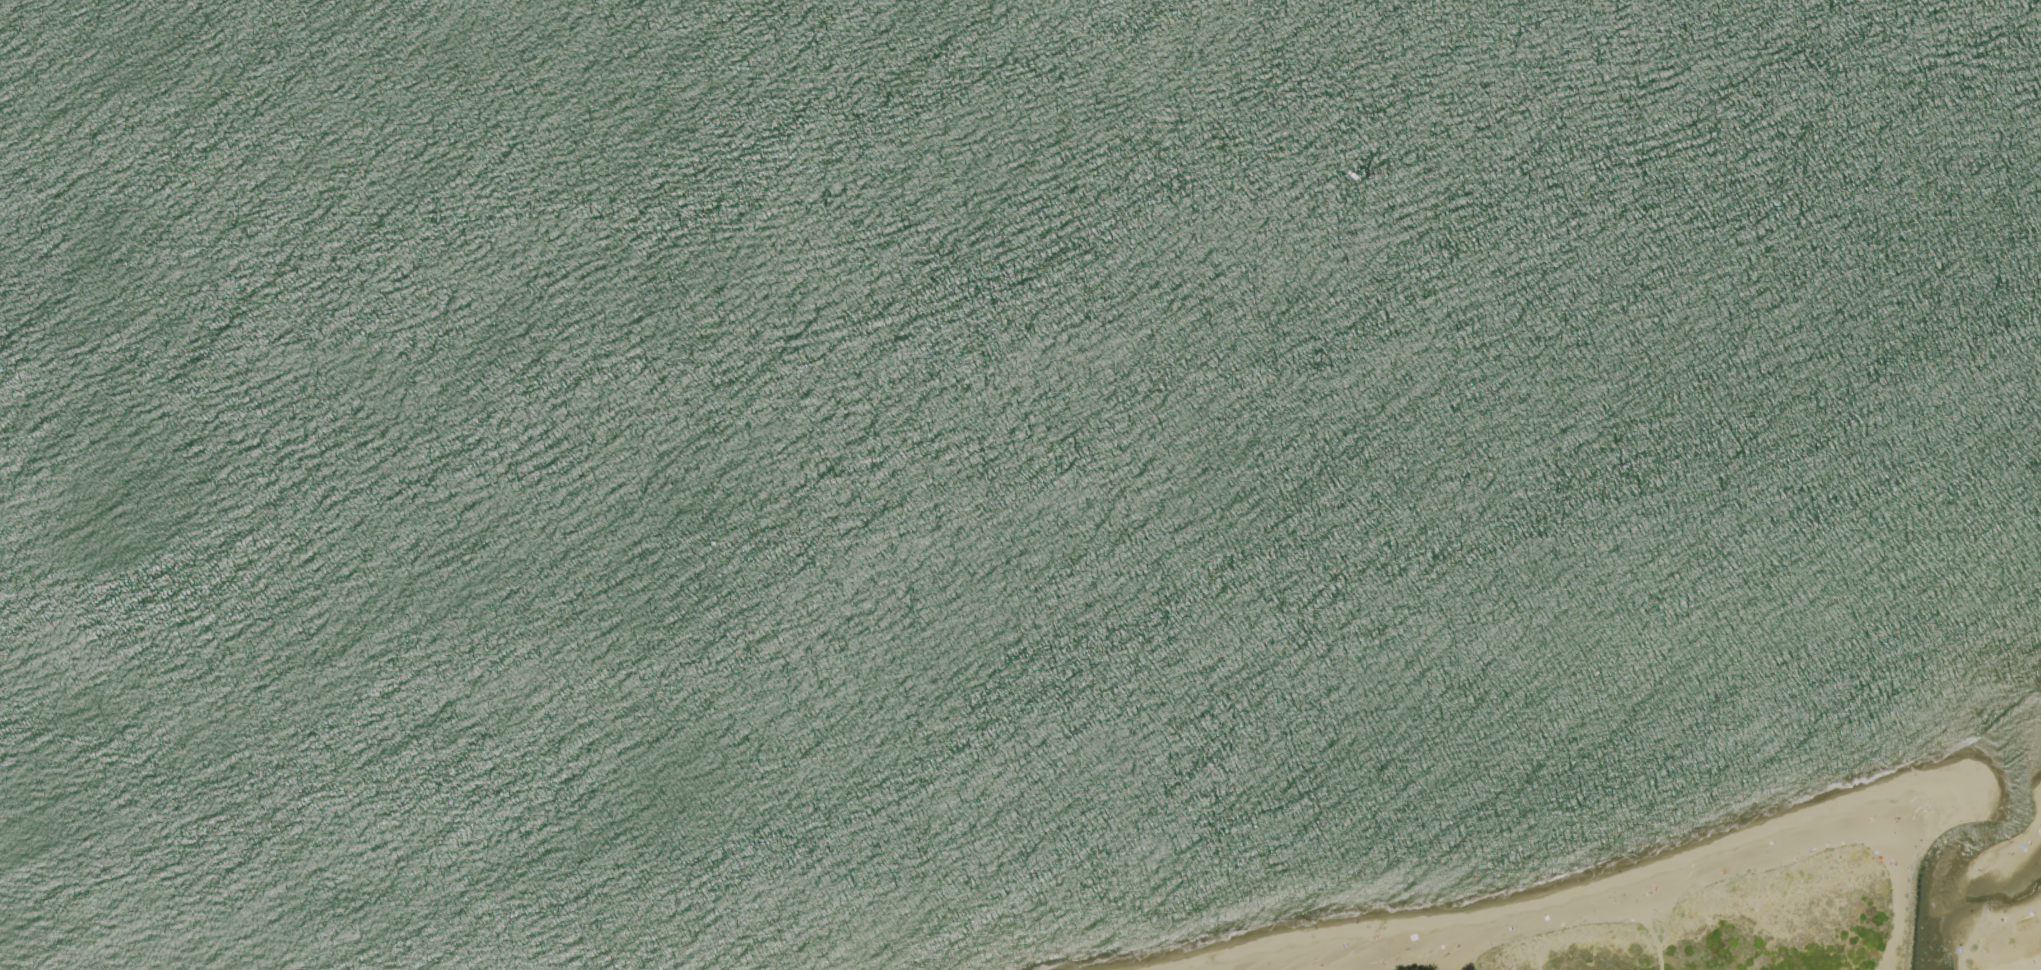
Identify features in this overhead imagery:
park: (1686, 901)
road: (1894, 916)
park: (2002, 937)
road: (1659, 957)

